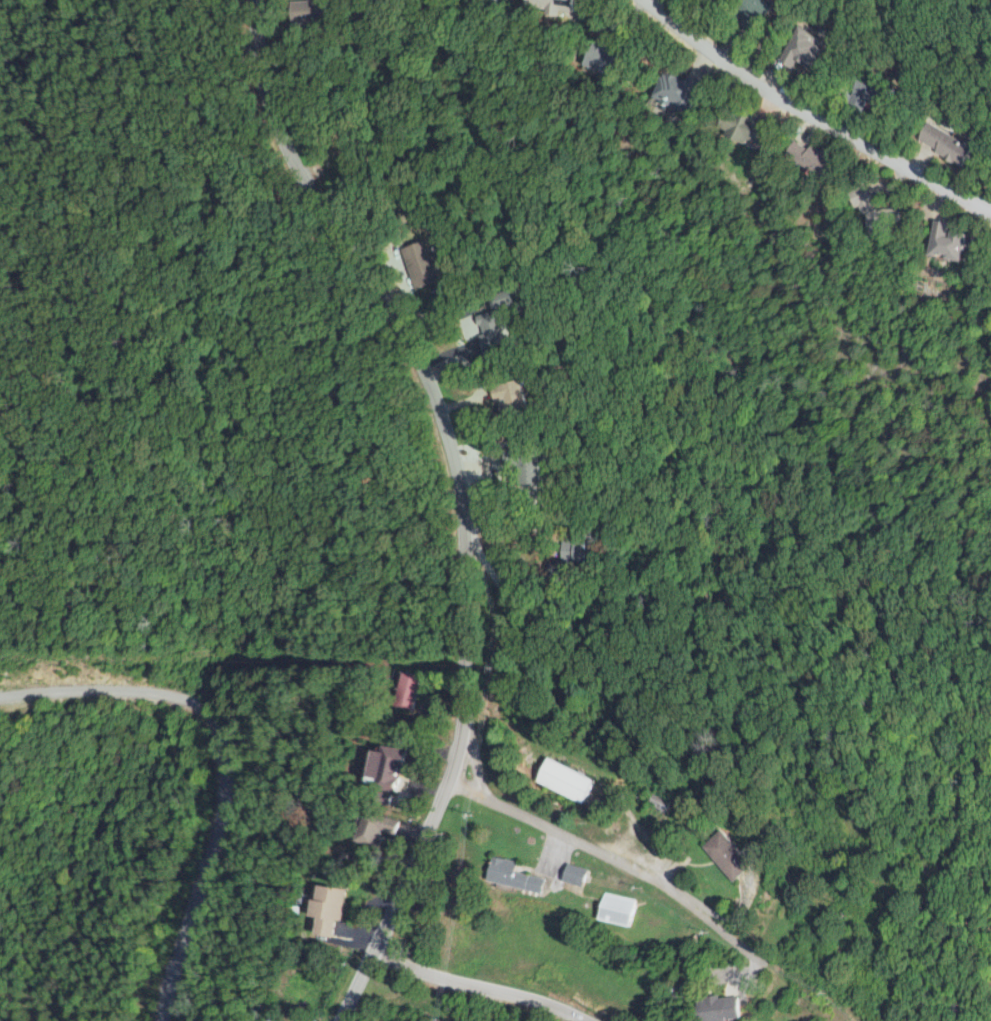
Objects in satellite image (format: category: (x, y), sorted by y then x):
building: (558, 3)
building: (313, 12)
building: (811, 50)
building: (607, 58)
building: (685, 90)
building: (880, 92)
road: (814, 112)
building: (750, 128)
building: (951, 144)
road: (101, 208)
building: (951, 241)
building: (428, 264)
building: (493, 333)
building: (509, 391)
road: (461, 502)
road: (509, 598)
building: (411, 690)
road: (231, 760)
building: (391, 765)
building: (576, 781)
building: (672, 803)
building: (378, 830)
building: (740, 858)
road: (638, 868)
building: (587, 876)
building: (523, 877)
building: (330, 907)
building: (626, 910)
road: (481, 984)
building: (724, 1008)

